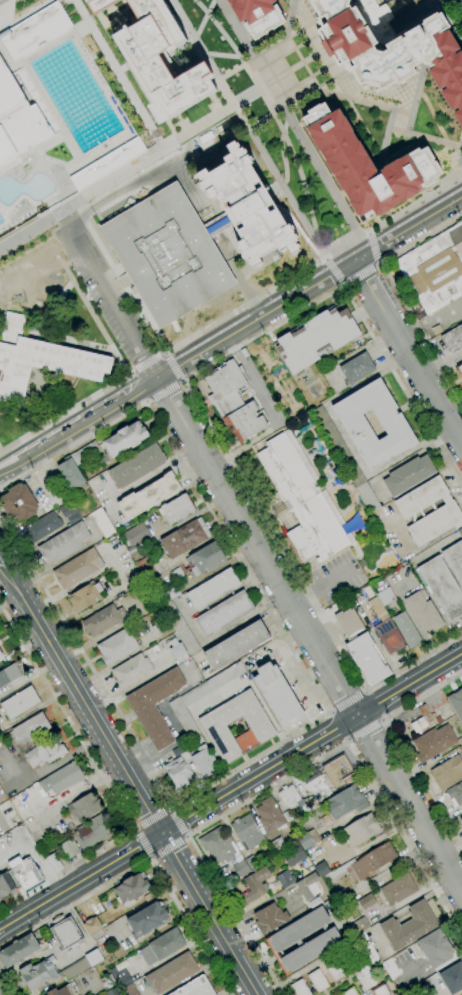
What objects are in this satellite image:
road: (449, 4)
building: (98, 5)
road: (397, 5)
road: (297, 13)
road: (412, 13)
road: (25, 15)
building: (257, 15)
road: (457, 16)
road: (203, 18)
road: (287, 19)
road: (450, 19)
building: (34, 29)
road: (235, 29)
road: (289, 35)
road: (295, 46)
building: (393, 47)
road: (237, 53)
road: (221, 55)
building: (160, 60)
road: (246, 61)
road: (302, 64)
road: (312, 73)
road: (117, 74)
road: (275, 77)
road: (417, 91)
road: (342, 92)
road: (303, 94)
road: (403, 112)
road: (273, 114)
road: (259, 120)
building: (17, 122)
road: (248, 129)
road: (190, 130)
road: (384, 140)
road: (305, 148)
road: (280, 150)
building: (106, 164)
building: (367, 166)
road: (114, 176)
road: (300, 177)
road: (140, 180)
road: (58, 206)
building: (249, 206)
road: (63, 215)
road: (39, 221)
building: (218, 224)
road: (299, 230)
road: (372, 248)
building: (167, 254)
building: (435, 269)
road: (335, 272)
road: (359, 276)
road: (243, 288)
road: (393, 293)
parking lot: (97, 296)
road: (49, 309)
road: (238, 309)
road: (230, 319)
road: (231, 334)
building: (316, 338)
building: (453, 339)
road: (378, 347)
road: (409, 350)
road: (164, 352)
building: (39, 360)
road: (147, 363)
road: (172, 365)
road: (443, 367)
building: (357, 368)
building: (460, 369)
road: (129, 374)
road: (118, 379)
road: (181, 380)
road: (137, 387)
road: (162, 389)
road: (144, 401)
building: (233, 402)
road: (18, 420)
building: (394, 425)
building: (125, 439)
road: (0, 449)
building: (84, 453)
building: (345, 459)
building: (137, 466)
building: (71, 475)
building: (408, 475)
building: (148, 496)
building: (304, 500)
building: (19, 503)
building: (66, 508)
building: (178, 508)
building: (447, 510)
building: (74, 518)
building: (102, 523)
building: (43, 526)
building: (460, 532)
building: (135, 538)
building: (185, 538)
road: (278, 541)
building: (64, 543)
building: (384, 548)
road: (263, 557)
building: (206, 559)
building: (454, 560)
road: (1, 561)
building: (77, 568)
building: (145, 569)
building: (177, 575)
building: (442, 587)
building: (213, 589)
road: (320, 590)
building: (170, 593)
building: (86, 596)
building: (385, 596)
building: (378, 609)
building: (424, 612)
building: (224, 614)
building: (103, 620)
building: (348, 624)
building: (180, 628)
building: (407, 630)
building: (388, 636)
building: (117, 646)
building: (236, 646)
building: (177, 651)
building: (0, 656)
building: (367, 659)
building: (131, 671)
building: (9, 675)
road: (410, 686)
road: (366, 690)
road: (369, 690)
building: (278, 696)
building: (201, 697)
road: (81, 699)
road: (348, 702)
building: (20, 703)
road: (376, 703)
building: (456, 703)
building: (155, 707)
road: (327, 709)
road: (331, 713)
road: (385, 717)
building: (421, 719)
road: (383, 720)
road: (338, 725)
building: (31, 728)
building: (213, 728)
road: (364, 729)
road: (346, 739)
road: (349, 740)
building: (460, 741)
building: (433, 743)
road: (402, 745)
building: (460, 749)
building: (177, 751)
building: (44, 753)
building: (204, 762)
building: (338, 771)
building: (447, 772)
building: (178, 773)
road: (259, 775)
road: (286, 778)
building: (61, 779)
road: (106, 784)
building: (317, 786)
building: (455, 794)
building: (291, 799)
building: (345, 802)
building: (85, 807)
road: (171, 808)
building: (270, 815)
road: (152, 818)
building: (461, 820)
road: (177, 822)
road: (134, 829)
building: (360, 830)
building: (91, 832)
building: (247, 832)
traffic signals: (161, 834)
road: (187, 835)
building: (307, 839)
road: (143, 842)
building: (217, 845)
building: (277, 845)
road: (169, 847)
building: (69, 849)
building: (293, 855)
road: (33, 856)
road: (150, 857)
building: (53, 863)
road: (142, 863)
building: (365, 864)
building: (245, 866)
building: (321, 869)
building: (25, 873)
building: (285, 878)
road: (80, 882)
building: (5, 885)
building: (254, 885)
building: (308, 886)
building: (132, 888)
building: (398, 889)
building: (340, 899)
building: (369, 900)
road: (208, 914)
building: (269, 918)
building: (147, 919)
building: (91, 925)
building: (359, 926)
building: (409, 926)
building: (65, 932)
building: (283, 940)
building: (162, 947)
building: (351, 947)
building: (435, 948)
building: (368, 949)
building: (18, 950)
building: (81, 965)
building: (335, 970)
building: (39, 973)
building: (171, 973)
building: (364, 973)
building: (452, 978)
building: (121, 979)
building: (108, 981)
building: (317, 981)
road: (7, 982)
building: (430, 983)
building: (195, 987)
building: (299, 988)
building: (64, 990)
building: (129, 990)
building: (379, 990)
building: (113, 991)
building: (349, 992)
building: (412, 994)
building: (414, 994)

